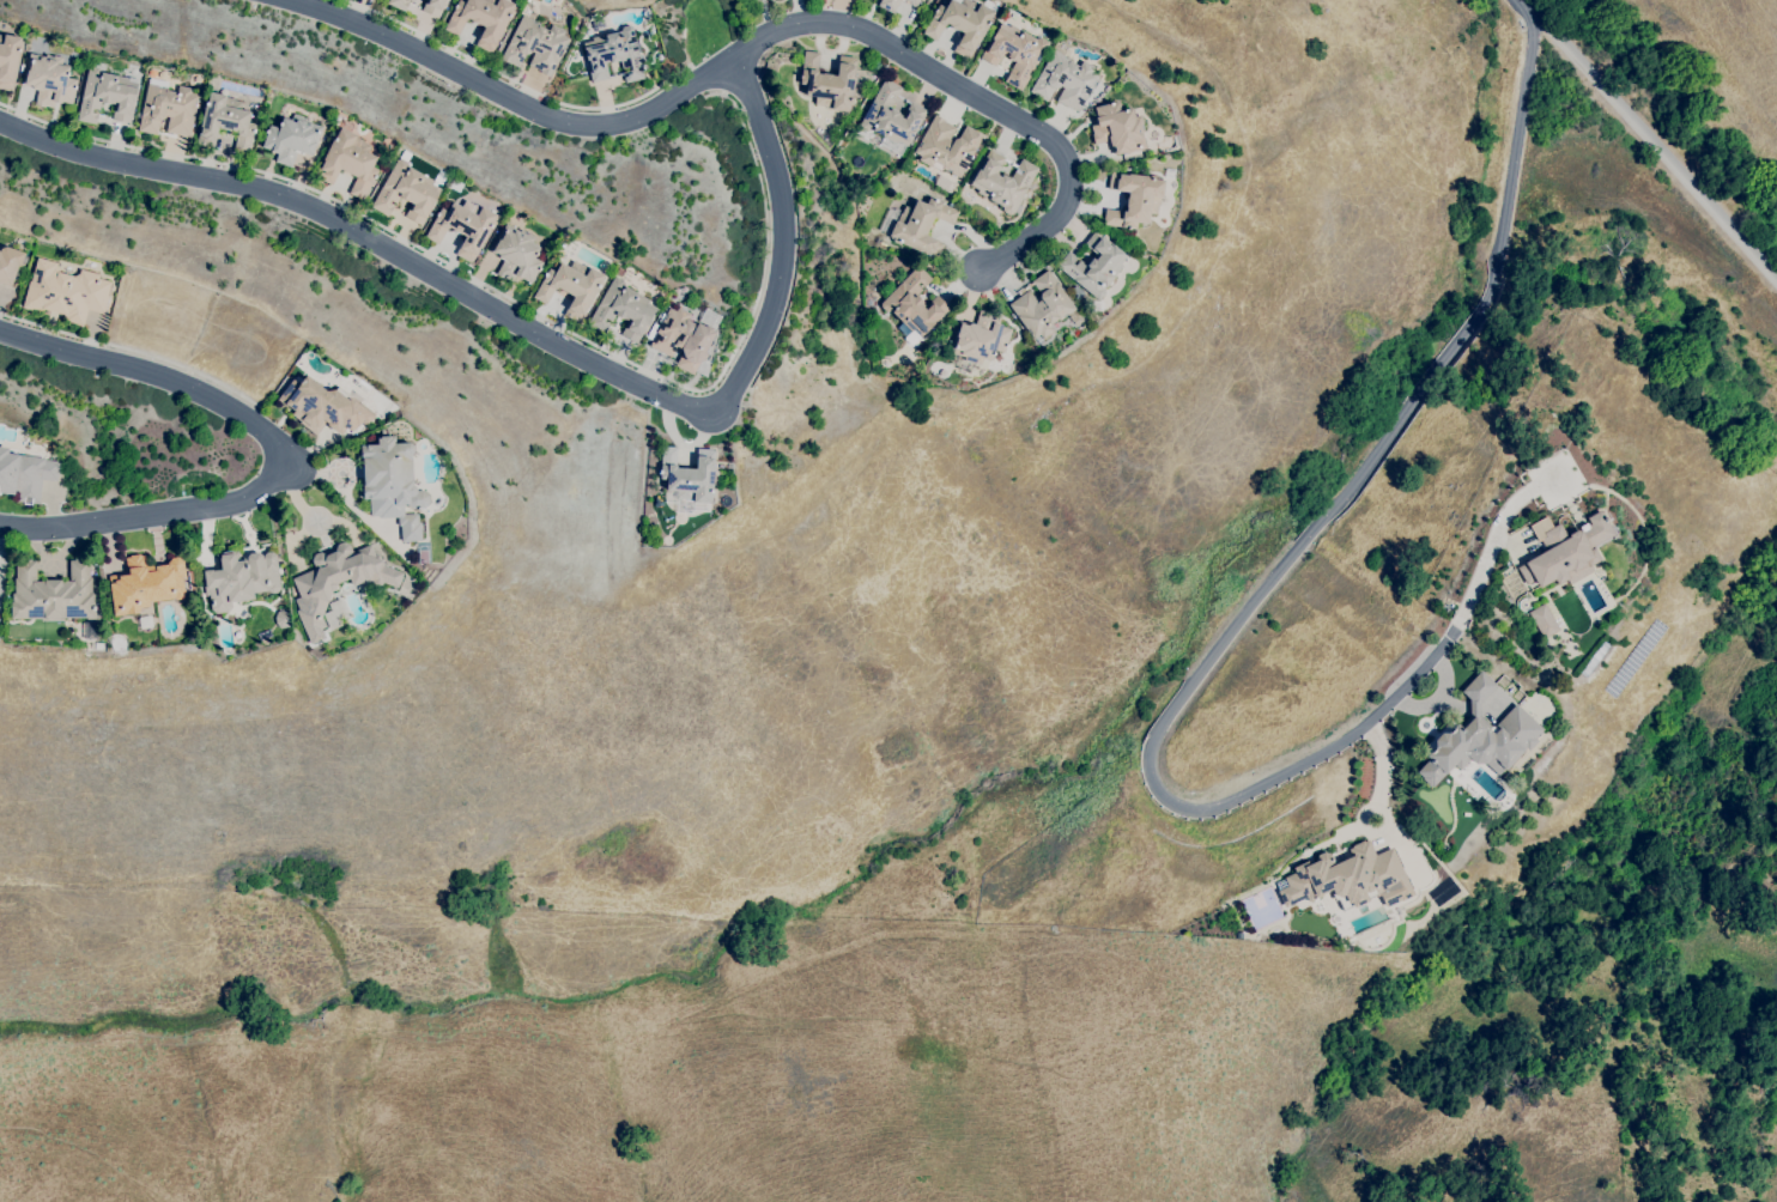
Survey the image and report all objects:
building: (911, 1)
building: (399, 4)
building: (888, 5)
building: (433, 7)
building: (483, 19)
building: (962, 22)
park: (690, 29)
road: (758, 40)
building: (535, 45)
road: (685, 48)
building: (1015, 53)
building: (613, 54)
building: (8, 60)
building: (49, 80)
building: (1065, 80)
road: (515, 81)
building: (829, 81)
road: (734, 87)
building: (107, 96)
building: (168, 110)
building: (891, 115)
building: (225, 123)
building: (1118, 128)
building: (291, 139)
road: (1651, 140)
building: (947, 146)
building: (348, 163)
building: (1002, 182)
building: (408, 190)
building: (1134, 199)
building: (463, 226)
building: (921, 226)
building: (517, 255)
building: (8, 265)
building: (1094, 265)
building: (571, 287)
building: (66, 292)
road: (515, 300)
building: (914, 303)
building: (1042, 306)
building: (623, 310)
road: (536, 326)
building: (686, 336)
building: (980, 338)
road: (134, 352)
road: (137, 366)
building: (323, 406)
building: (25, 475)
building: (689, 475)
building: (393, 484)
road: (165, 511)
building: (1565, 551)
building: (241, 578)
building: (0, 579)
building: (336, 582)
building: (145, 584)
building: (53, 593)
building: (281, 619)
building: (145, 621)
building: (1543, 621)
road: (1223, 639)
building: (1480, 736)
building: (1348, 878)

